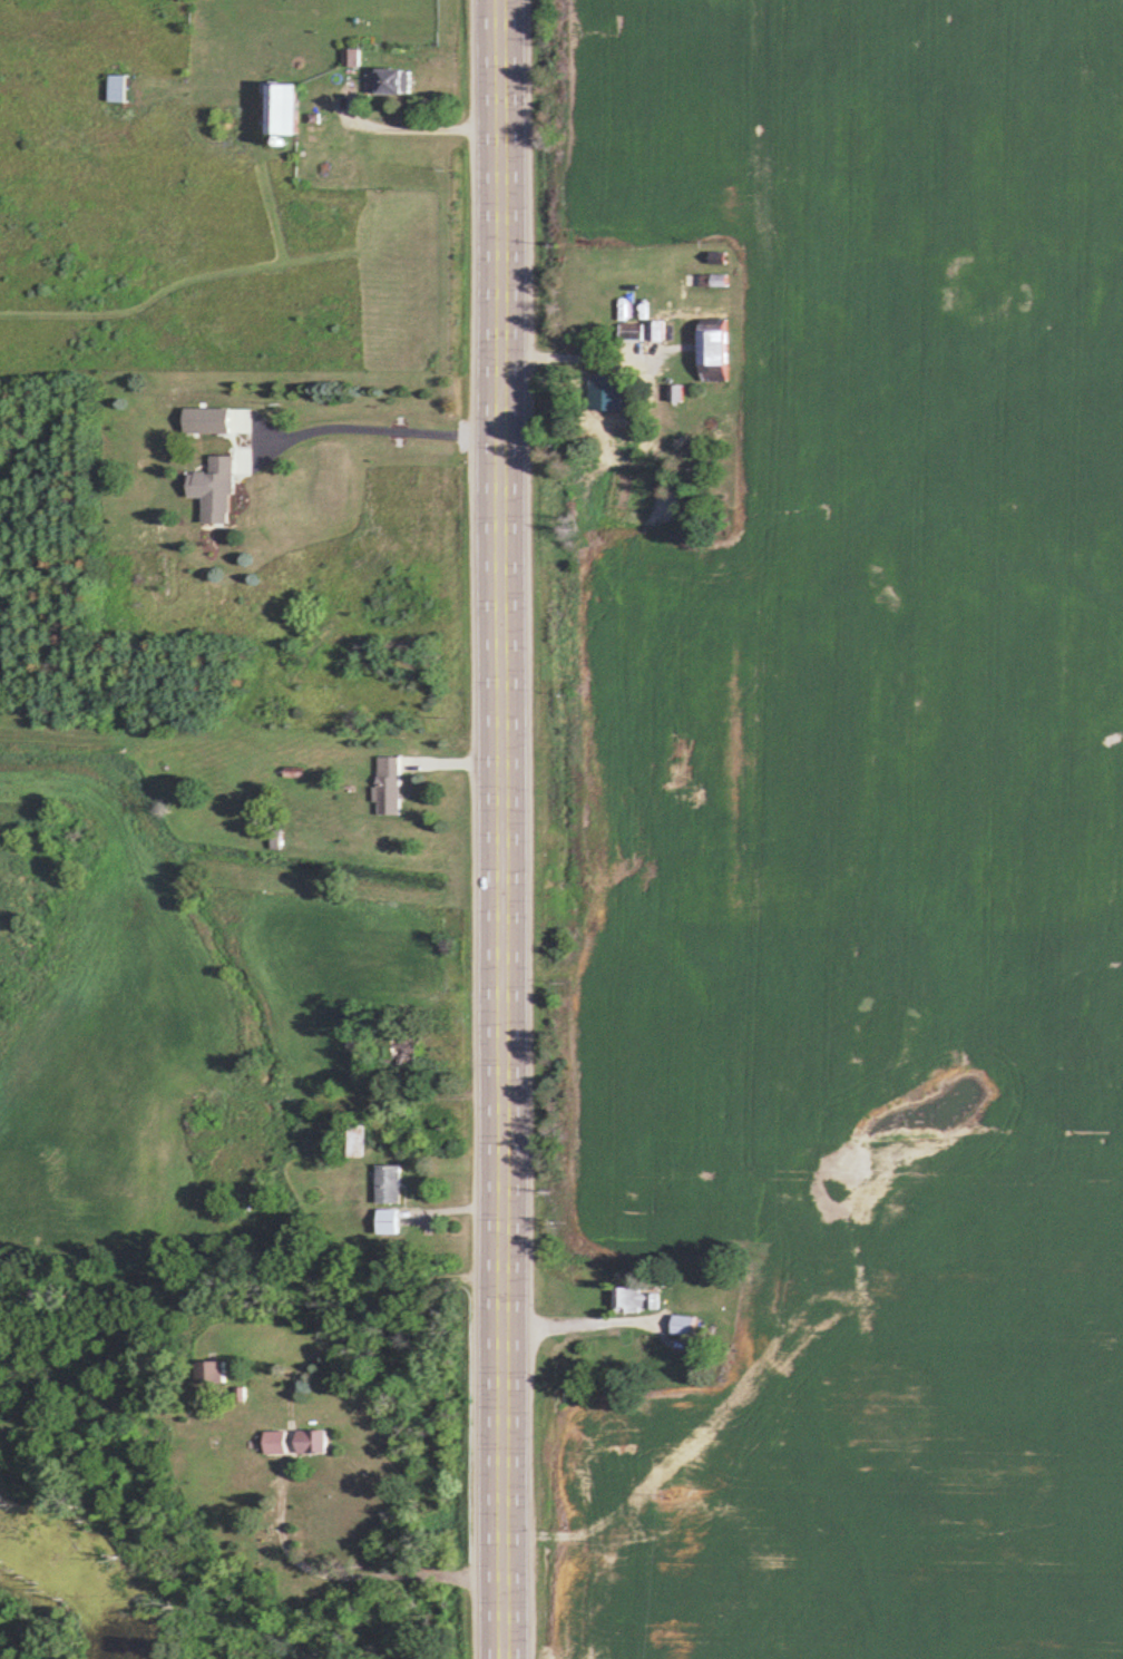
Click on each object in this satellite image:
building: (393, 81)
building: (118, 88)
building: (282, 109)
road: (417, 127)
building: (713, 349)
road: (564, 354)
building: (606, 391)
building: (211, 419)
road: (380, 427)
building: (217, 488)
park: (924, 622)
building: (388, 784)
road: (501, 829)
building: (353, 1139)
building: (388, 1182)
building: (388, 1220)
building: (634, 1299)
road: (569, 1318)
building: (682, 1325)
building: (208, 1370)
building: (274, 1441)
building: (311, 1441)
road: (352, 1568)

